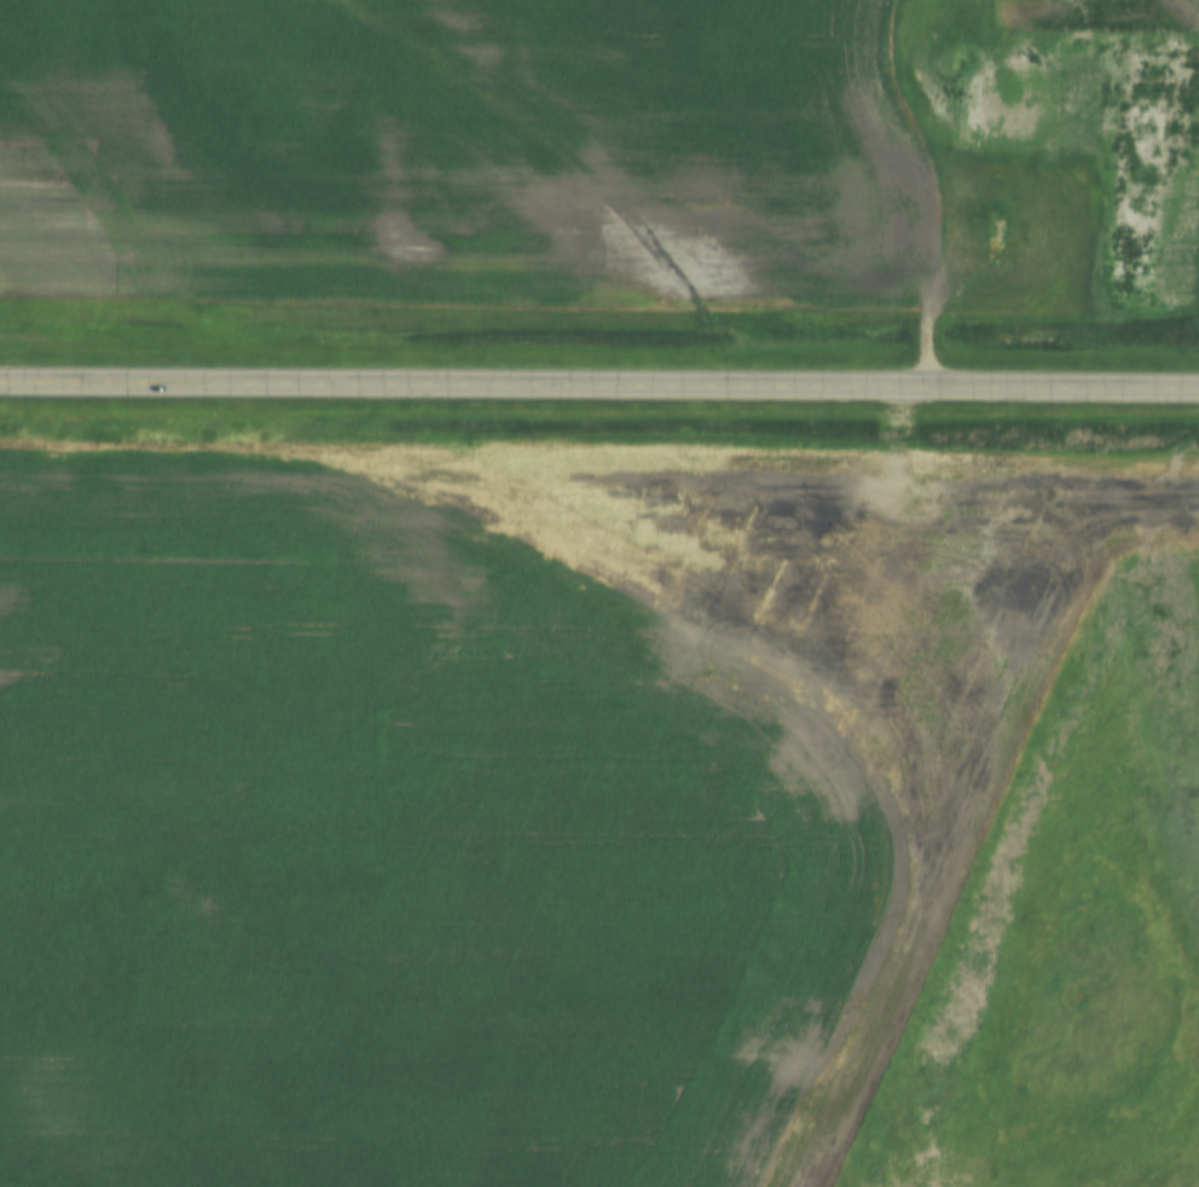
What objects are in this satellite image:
road: (599, 386)

